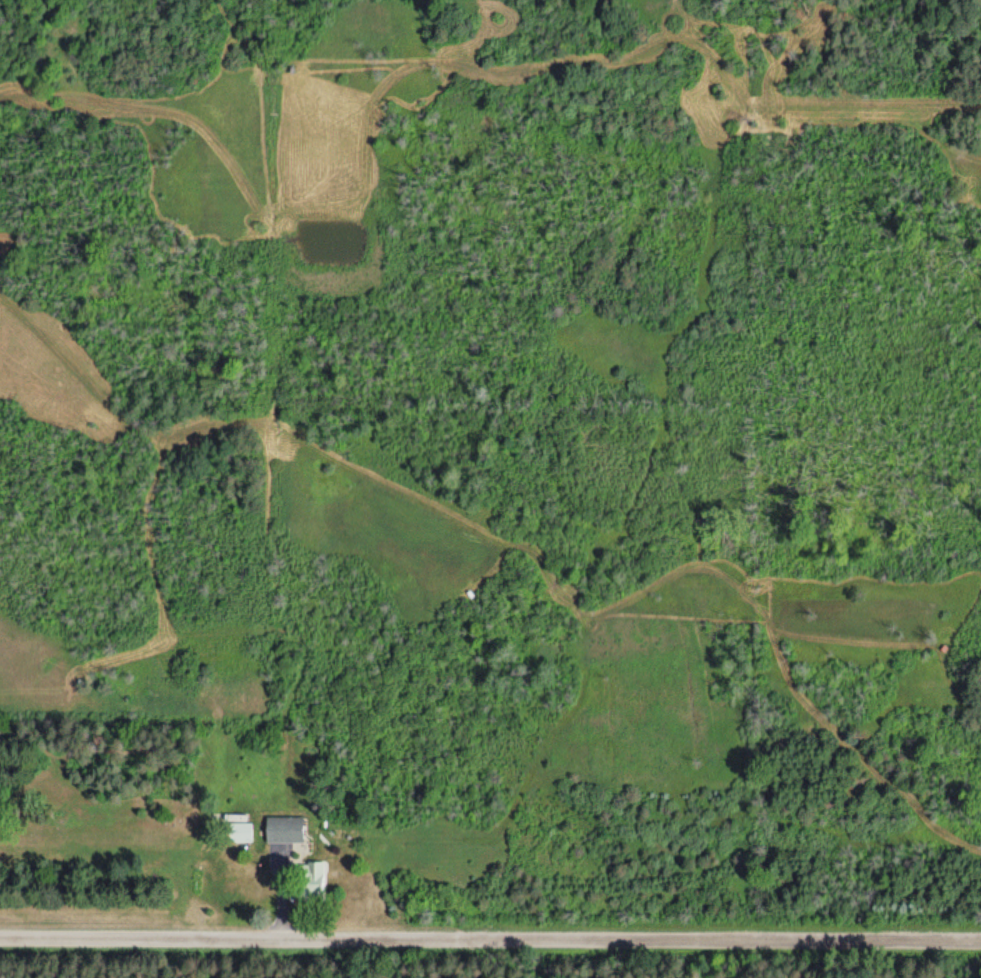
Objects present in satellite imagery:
building: (284, 830)
building: (238, 833)
building: (308, 882)
road: (490, 938)

